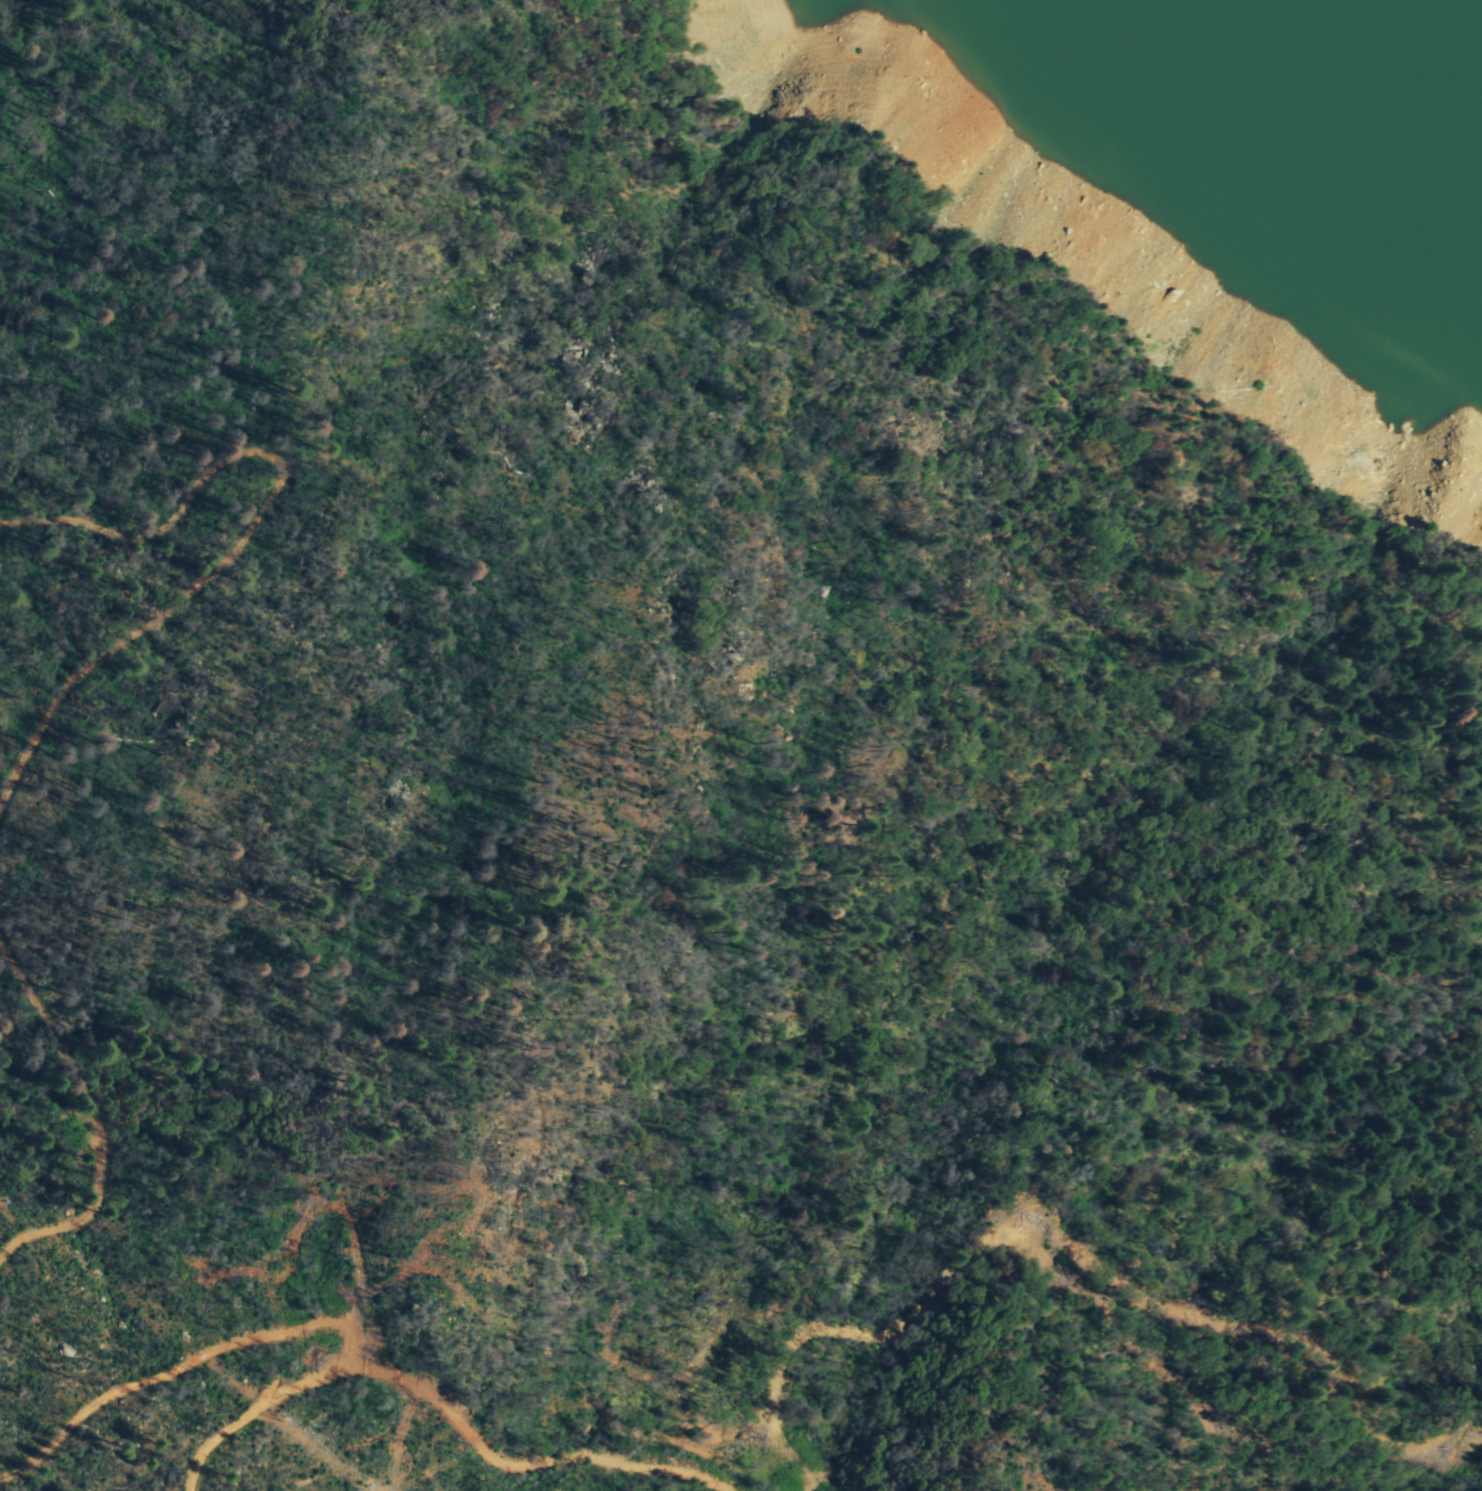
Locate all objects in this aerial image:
river: (1467, 11)
road: (86, 677)
road: (268, 1316)

